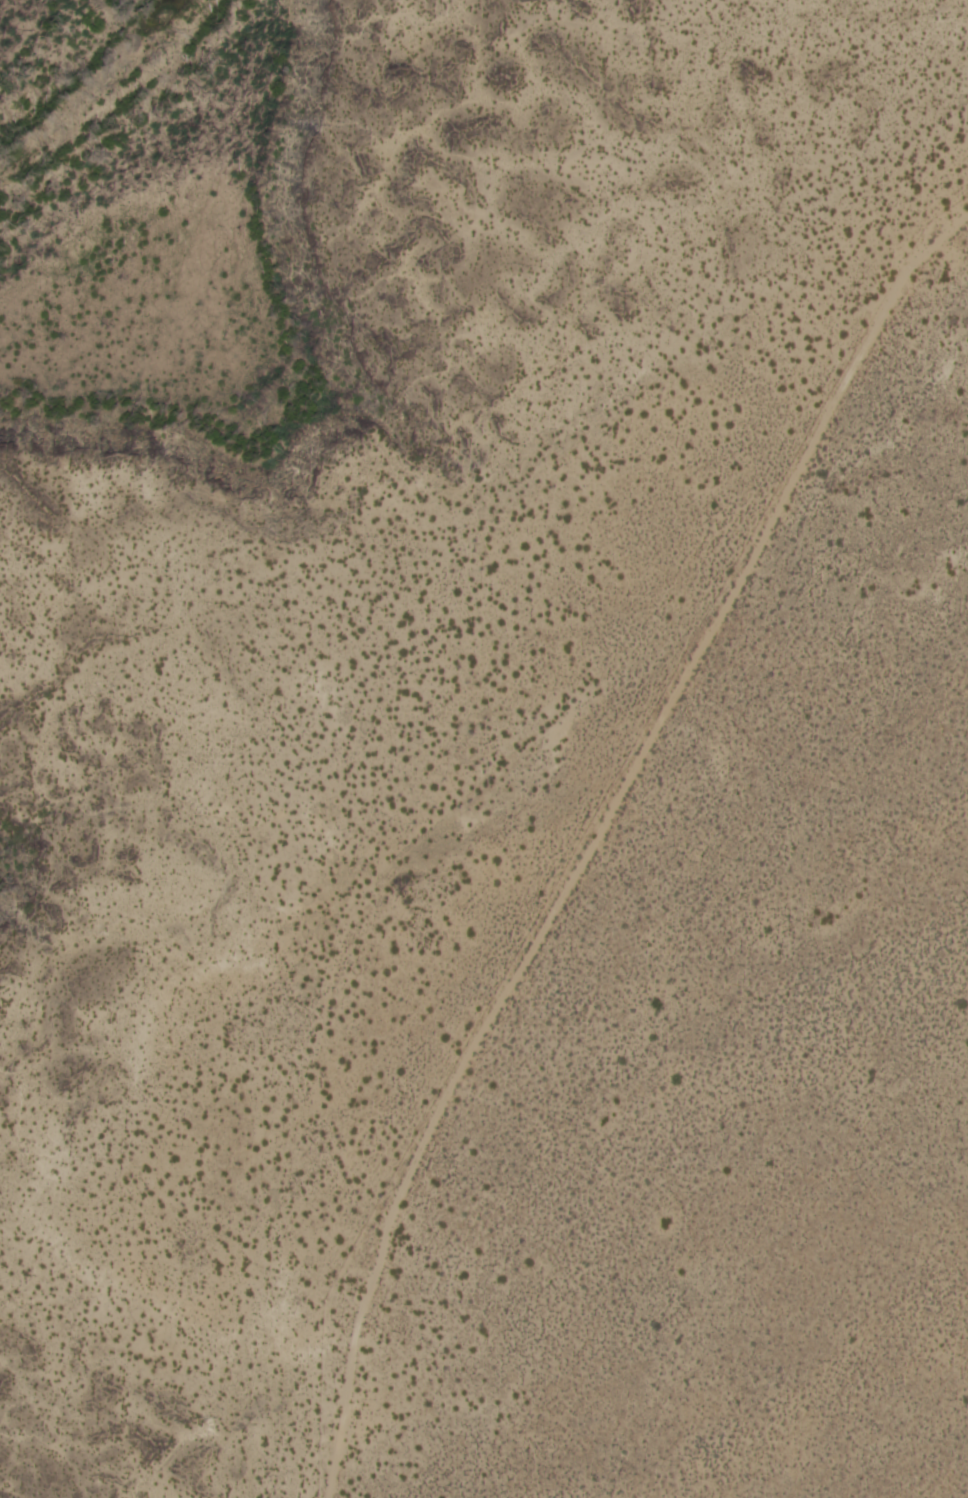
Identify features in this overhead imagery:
road: (592, 828)

